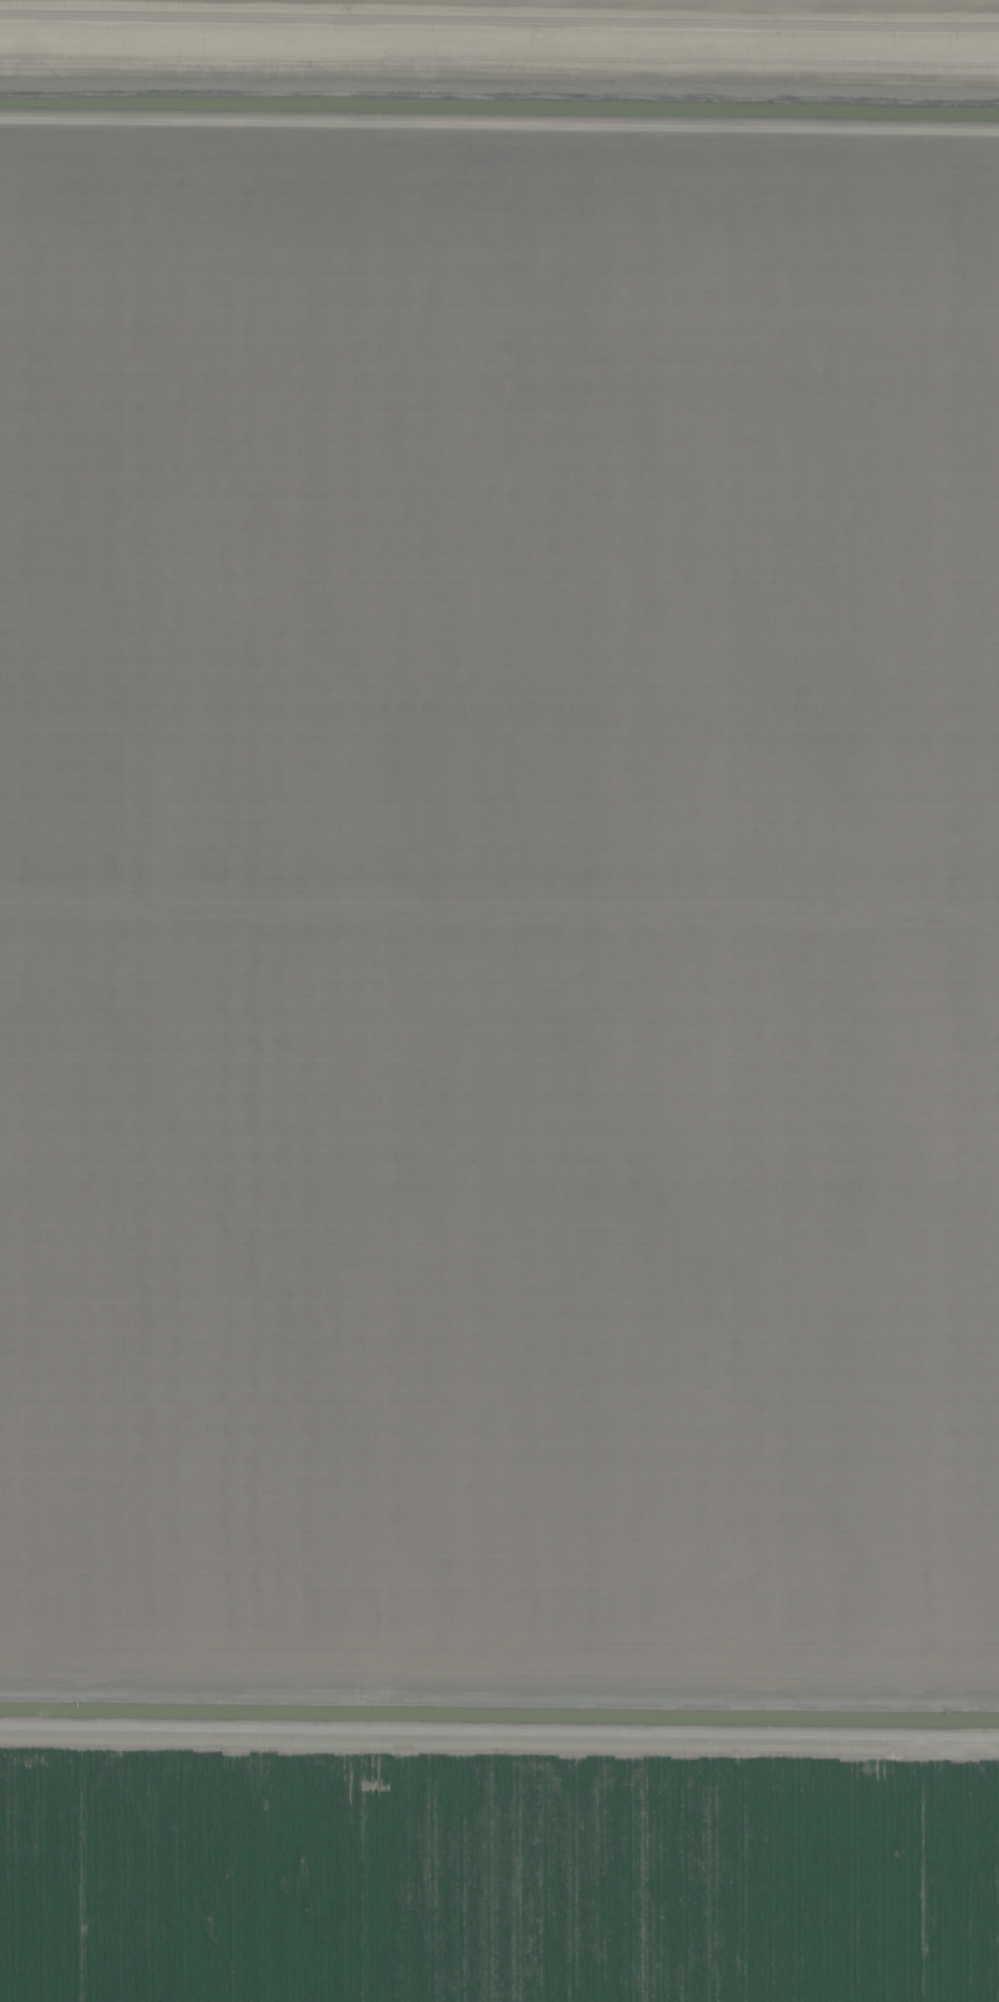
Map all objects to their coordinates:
road: (499, 25)
road: (499, 138)
crop: (499, 1001)

